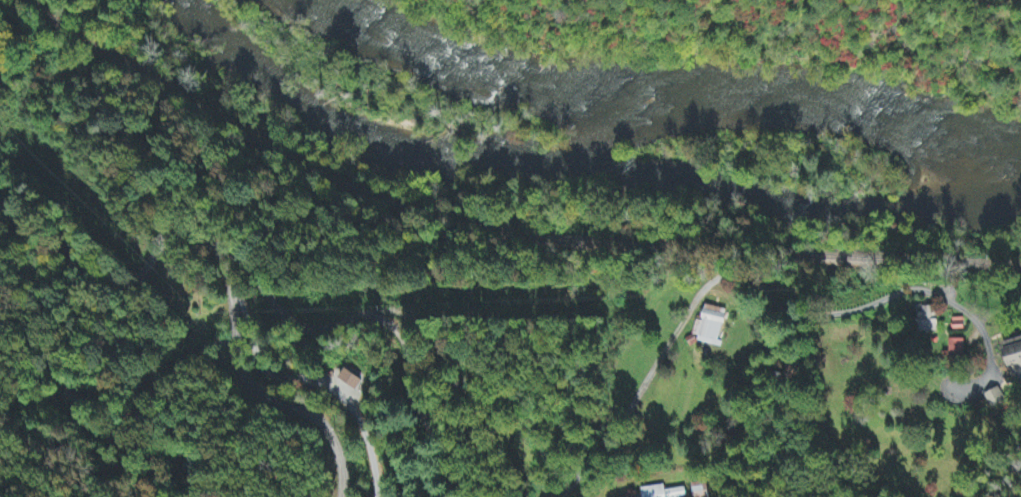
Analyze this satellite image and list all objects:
river: (474, 24)
river: (776, 91)
railway: (505, 231)
road: (731, 274)
road: (260, 282)
building: (927, 320)
building: (713, 327)
building: (1019, 347)
building: (956, 349)
building: (351, 380)
road: (251, 384)
building: (993, 399)
building: (700, 490)
building: (663, 492)
building: (630, 495)

